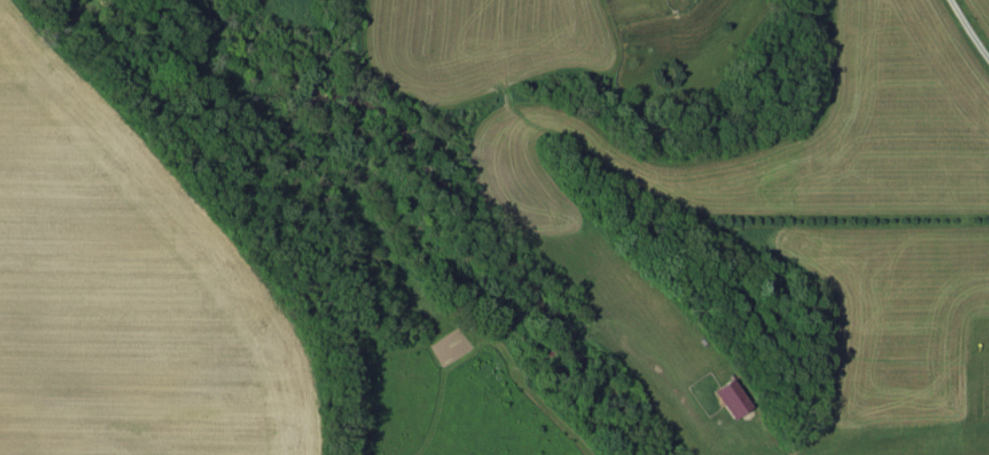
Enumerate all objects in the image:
road: (968, 30)
building: (731, 397)

